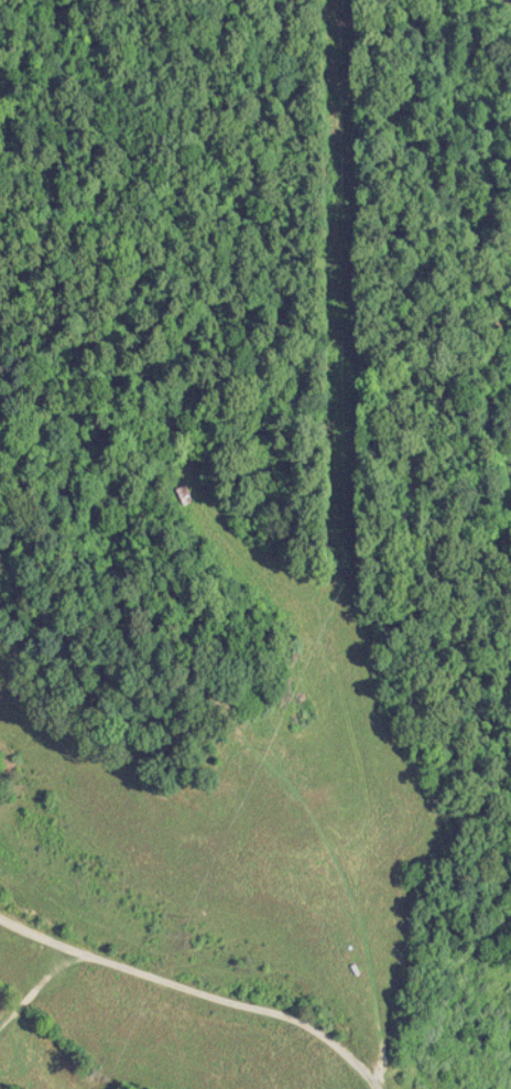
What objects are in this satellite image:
building: (184, 492)

